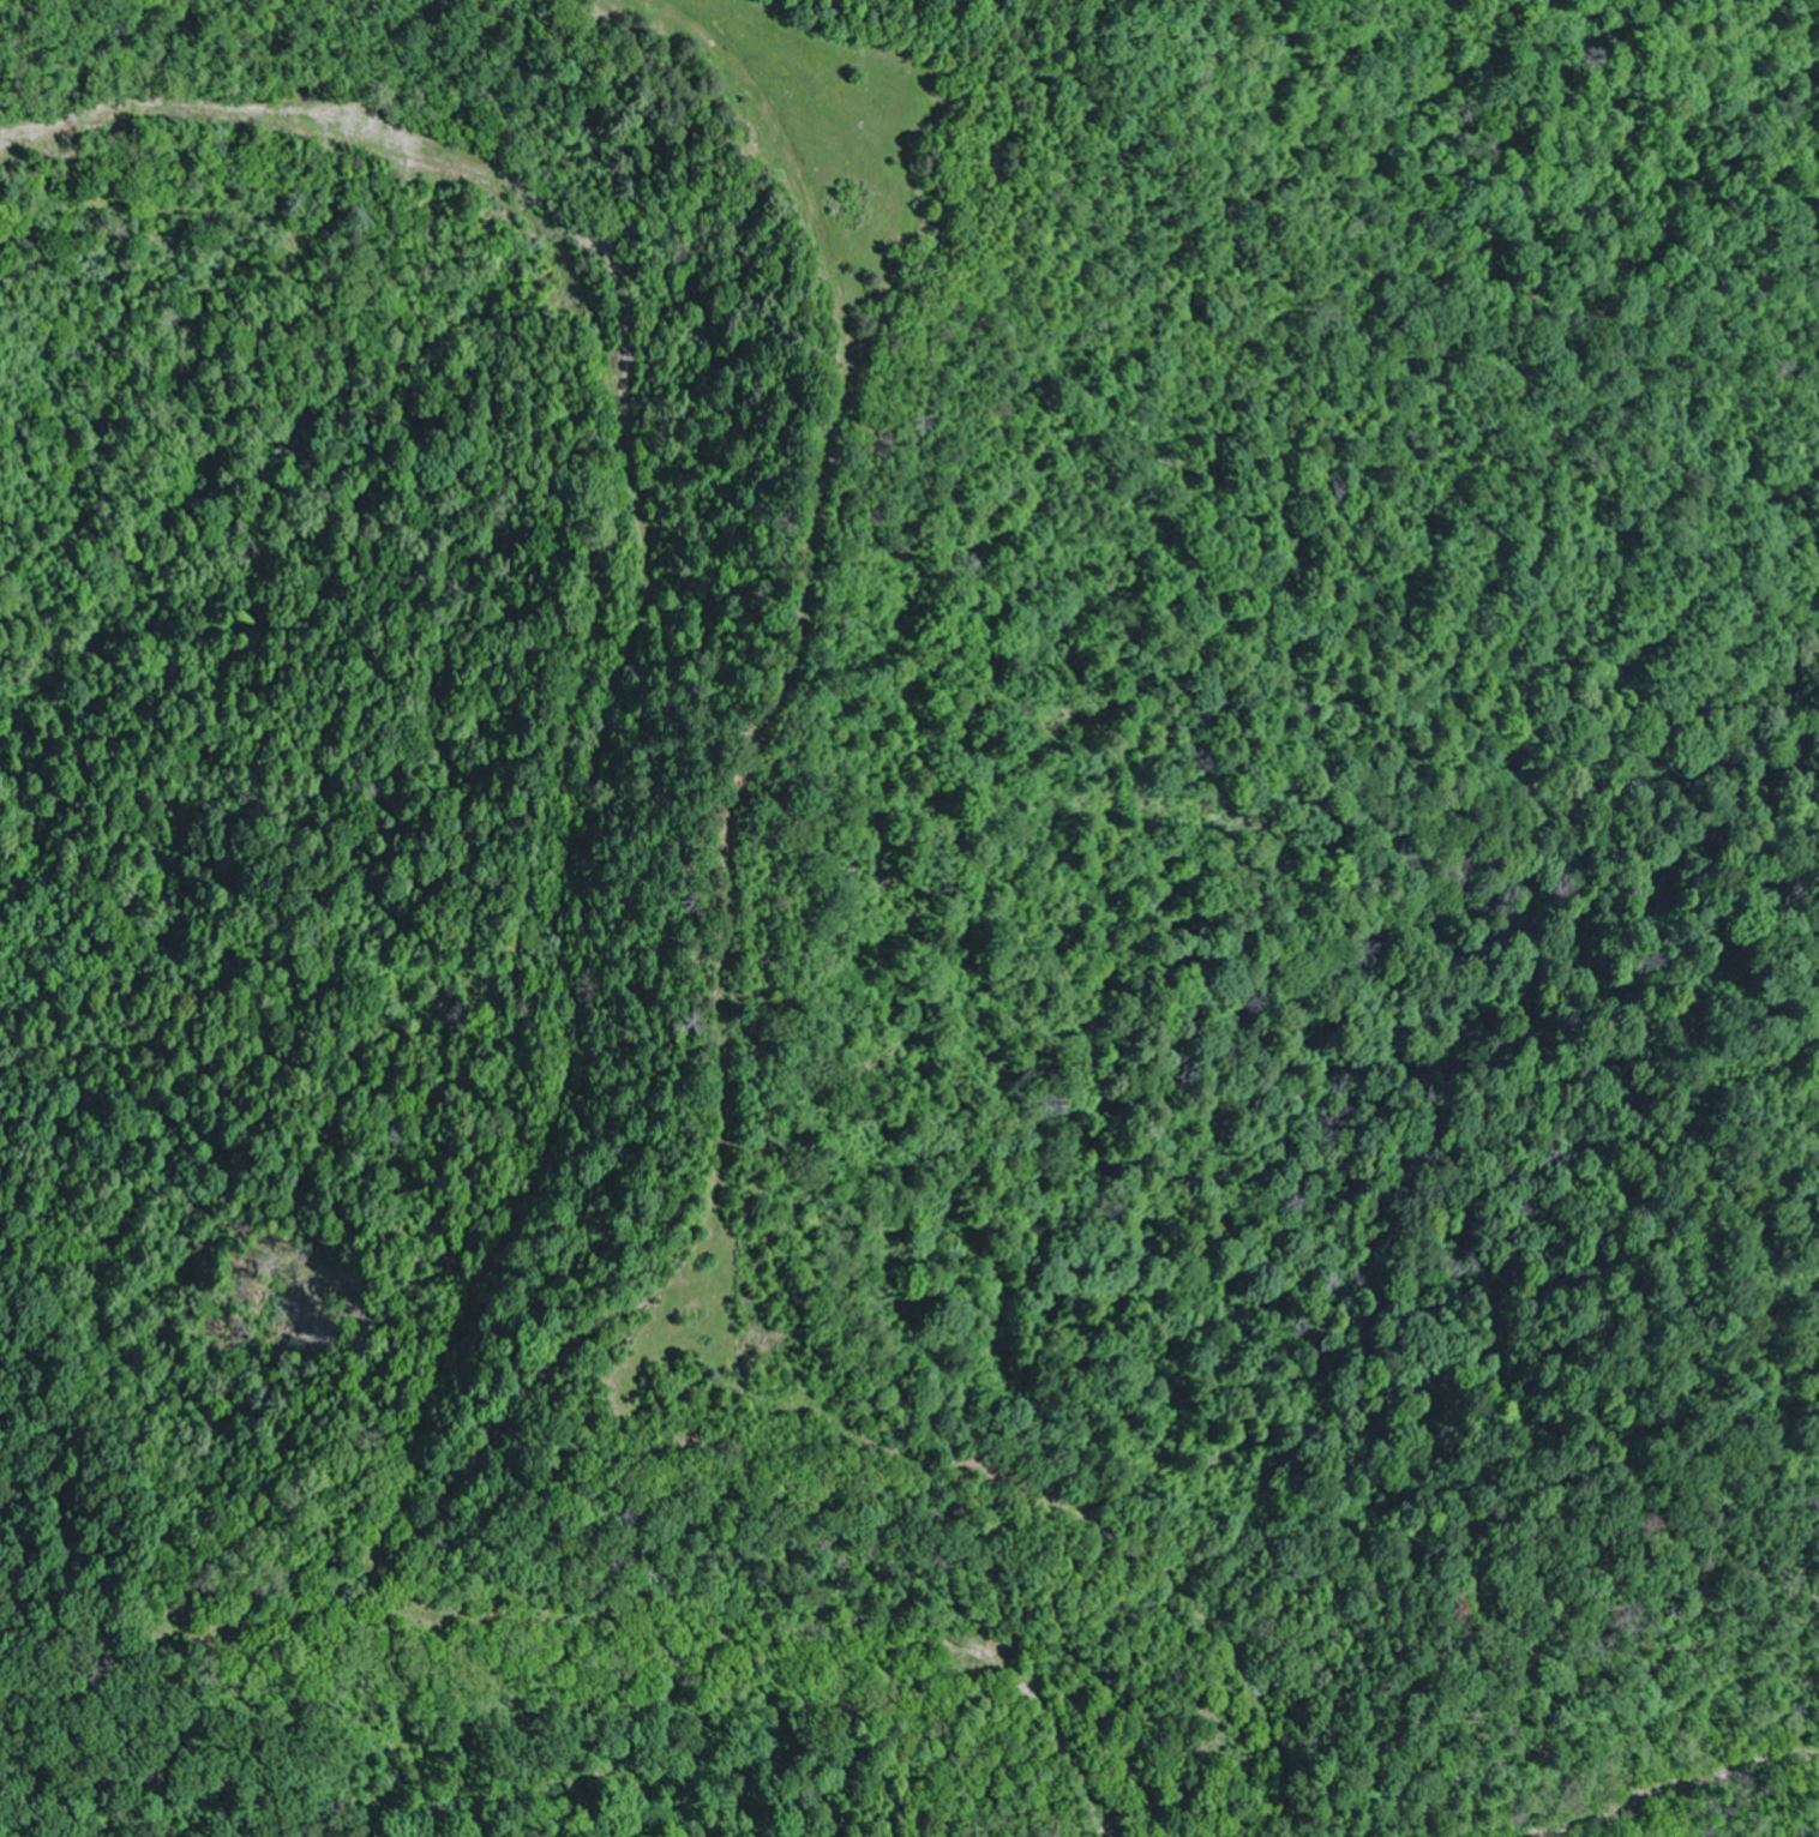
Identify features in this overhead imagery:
road: (520, 1025)

